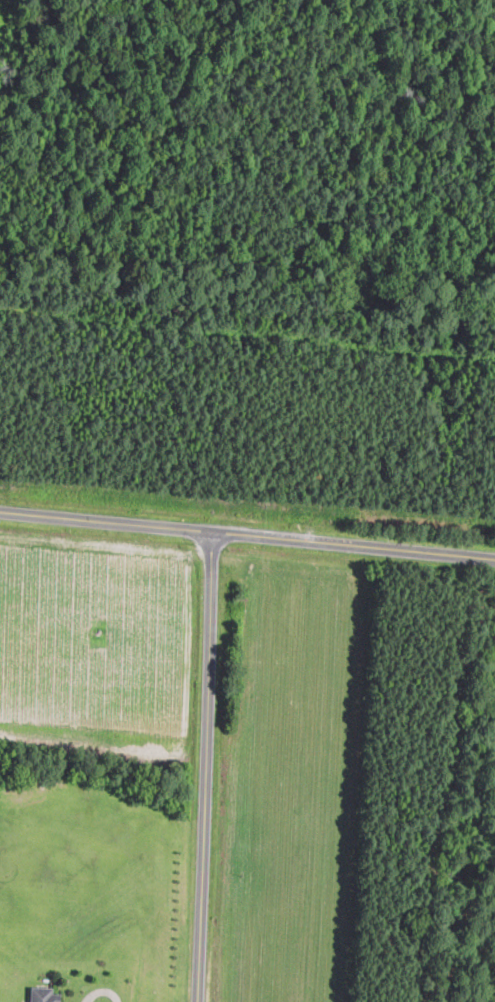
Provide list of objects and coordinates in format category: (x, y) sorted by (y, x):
road: (247, 533)
road: (206, 766)
road: (102, 990)
building: (44, 994)

